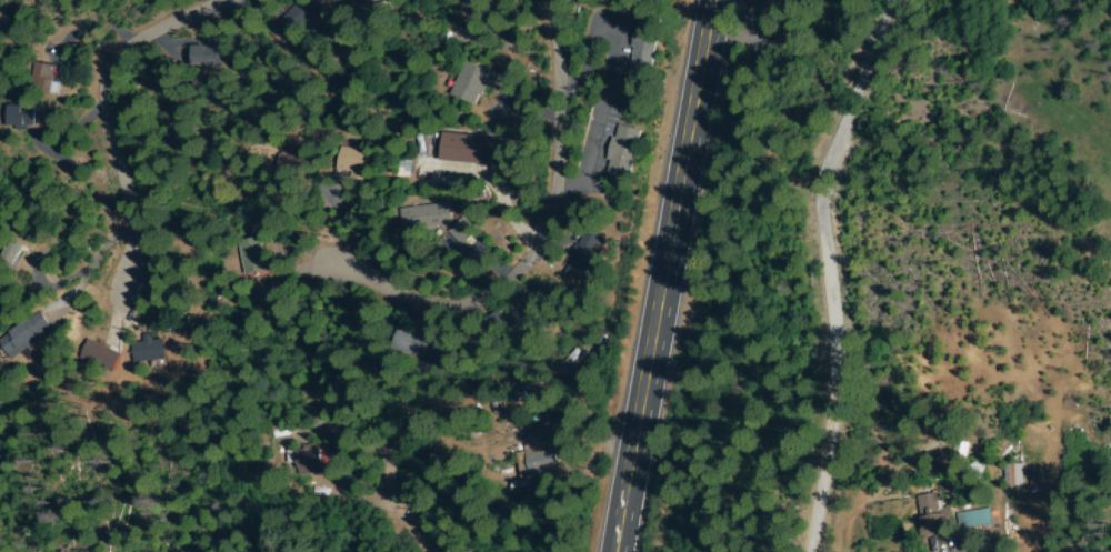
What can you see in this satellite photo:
building: (376, 4)
building: (476, 10)
building: (765, 11)
building: (292, 21)
building: (641, 49)
building: (206, 57)
building: (508, 73)
building: (46, 79)
building: (470, 84)
road: (116, 99)
building: (23, 118)
building: (474, 149)
building: (625, 150)
building: (353, 164)
building: (286, 165)
building: (407, 168)
building: (427, 220)
building: (462, 231)
road: (549, 233)
building: (13, 254)
building: (252, 257)
building: (587, 257)
road: (830, 270)
road: (669, 275)
building: (527, 317)
building: (498, 323)
building: (23, 337)
building: (412, 344)
building: (154, 354)
building: (100, 358)
building: (1110, 448)
building: (308, 461)
building: (537, 461)
building: (1010, 474)
road: (390, 504)
building: (933, 518)
building: (974, 520)

